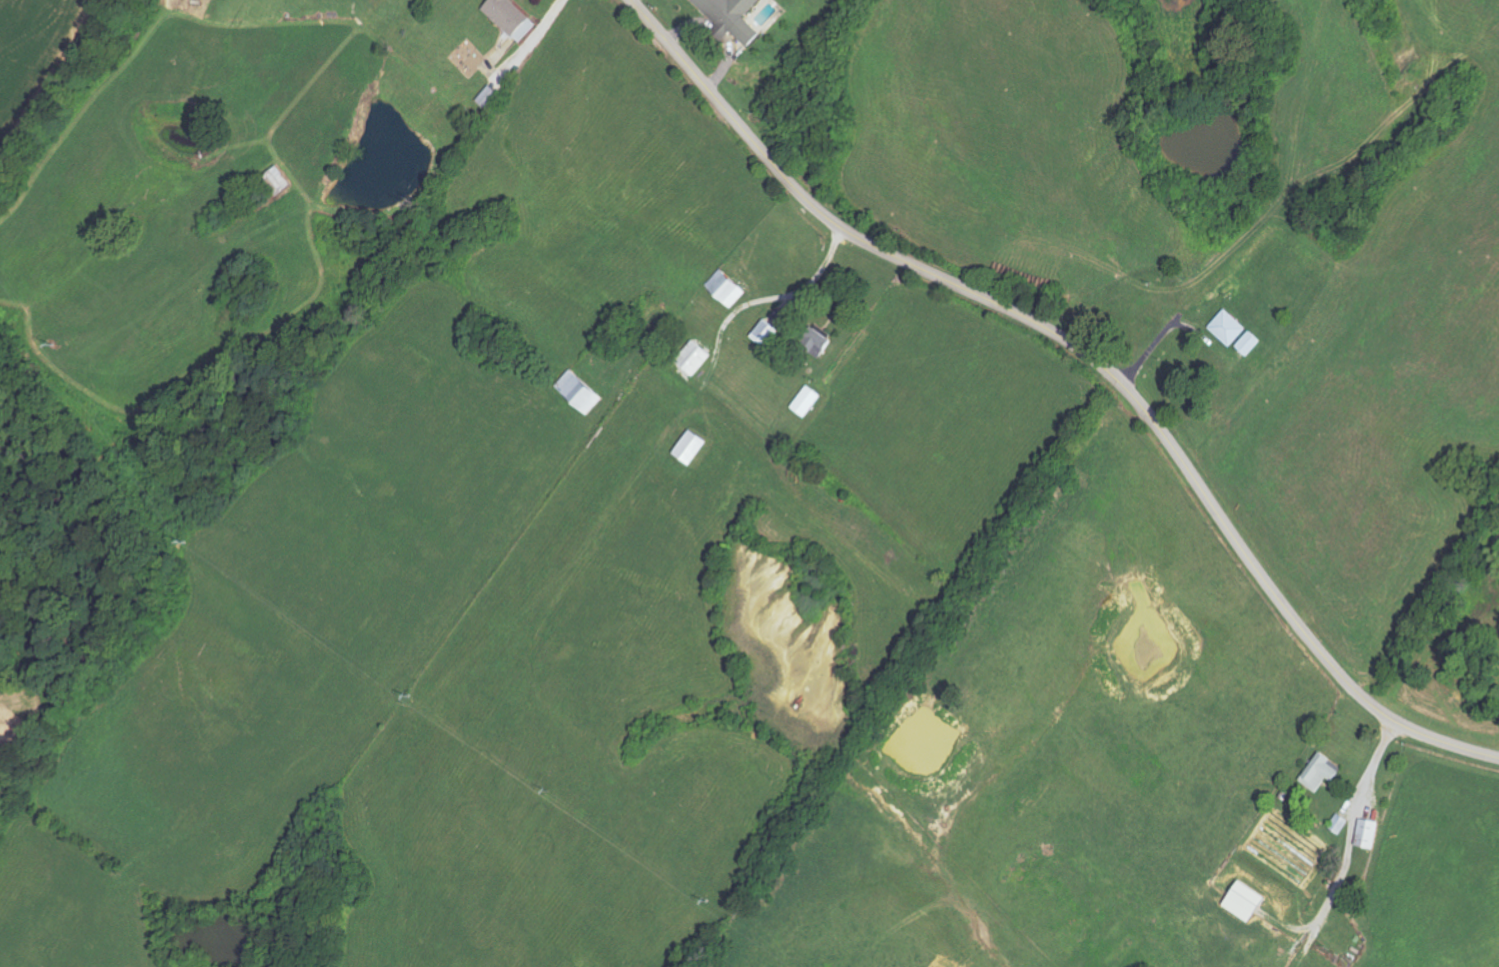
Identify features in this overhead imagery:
building: (508, 15)
building: (732, 16)
building: (278, 181)
building: (726, 289)
building: (1229, 328)
building: (766, 334)
road: (1156, 344)
building: (1250, 344)
building: (818, 347)
road: (1087, 357)
building: (694, 359)
building: (580, 393)
building: (691, 448)
building: (1322, 773)
building: (1368, 835)
road: (1353, 842)
building: (1245, 901)

